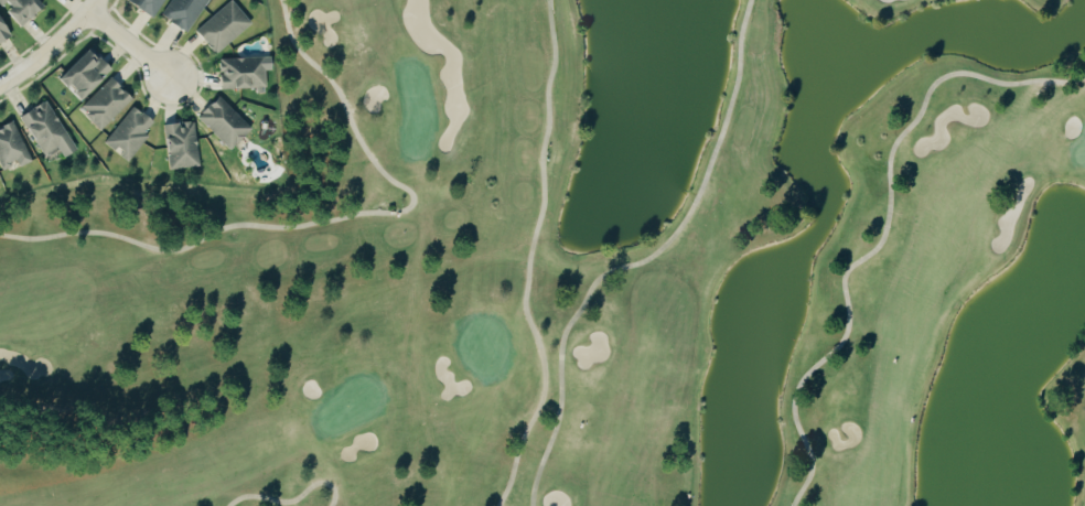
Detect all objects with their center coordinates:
building: (146, 6)
building: (19, 9)
building: (182, 12)
building: (222, 25)
building: (2, 31)
road: (128, 41)
road: (58, 54)
building: (241, 71)
building: (80, 72)
building: (104, 103)
building: (223, 121)
building: (45, 128)
building: (128, 132)
building: (179, 144)
building: (10, 147)
road: (326, 219)
road: (885, 234)
road: (531, 256)
road: (643, 260)
park: (583, 269)
road: (292, 498)

